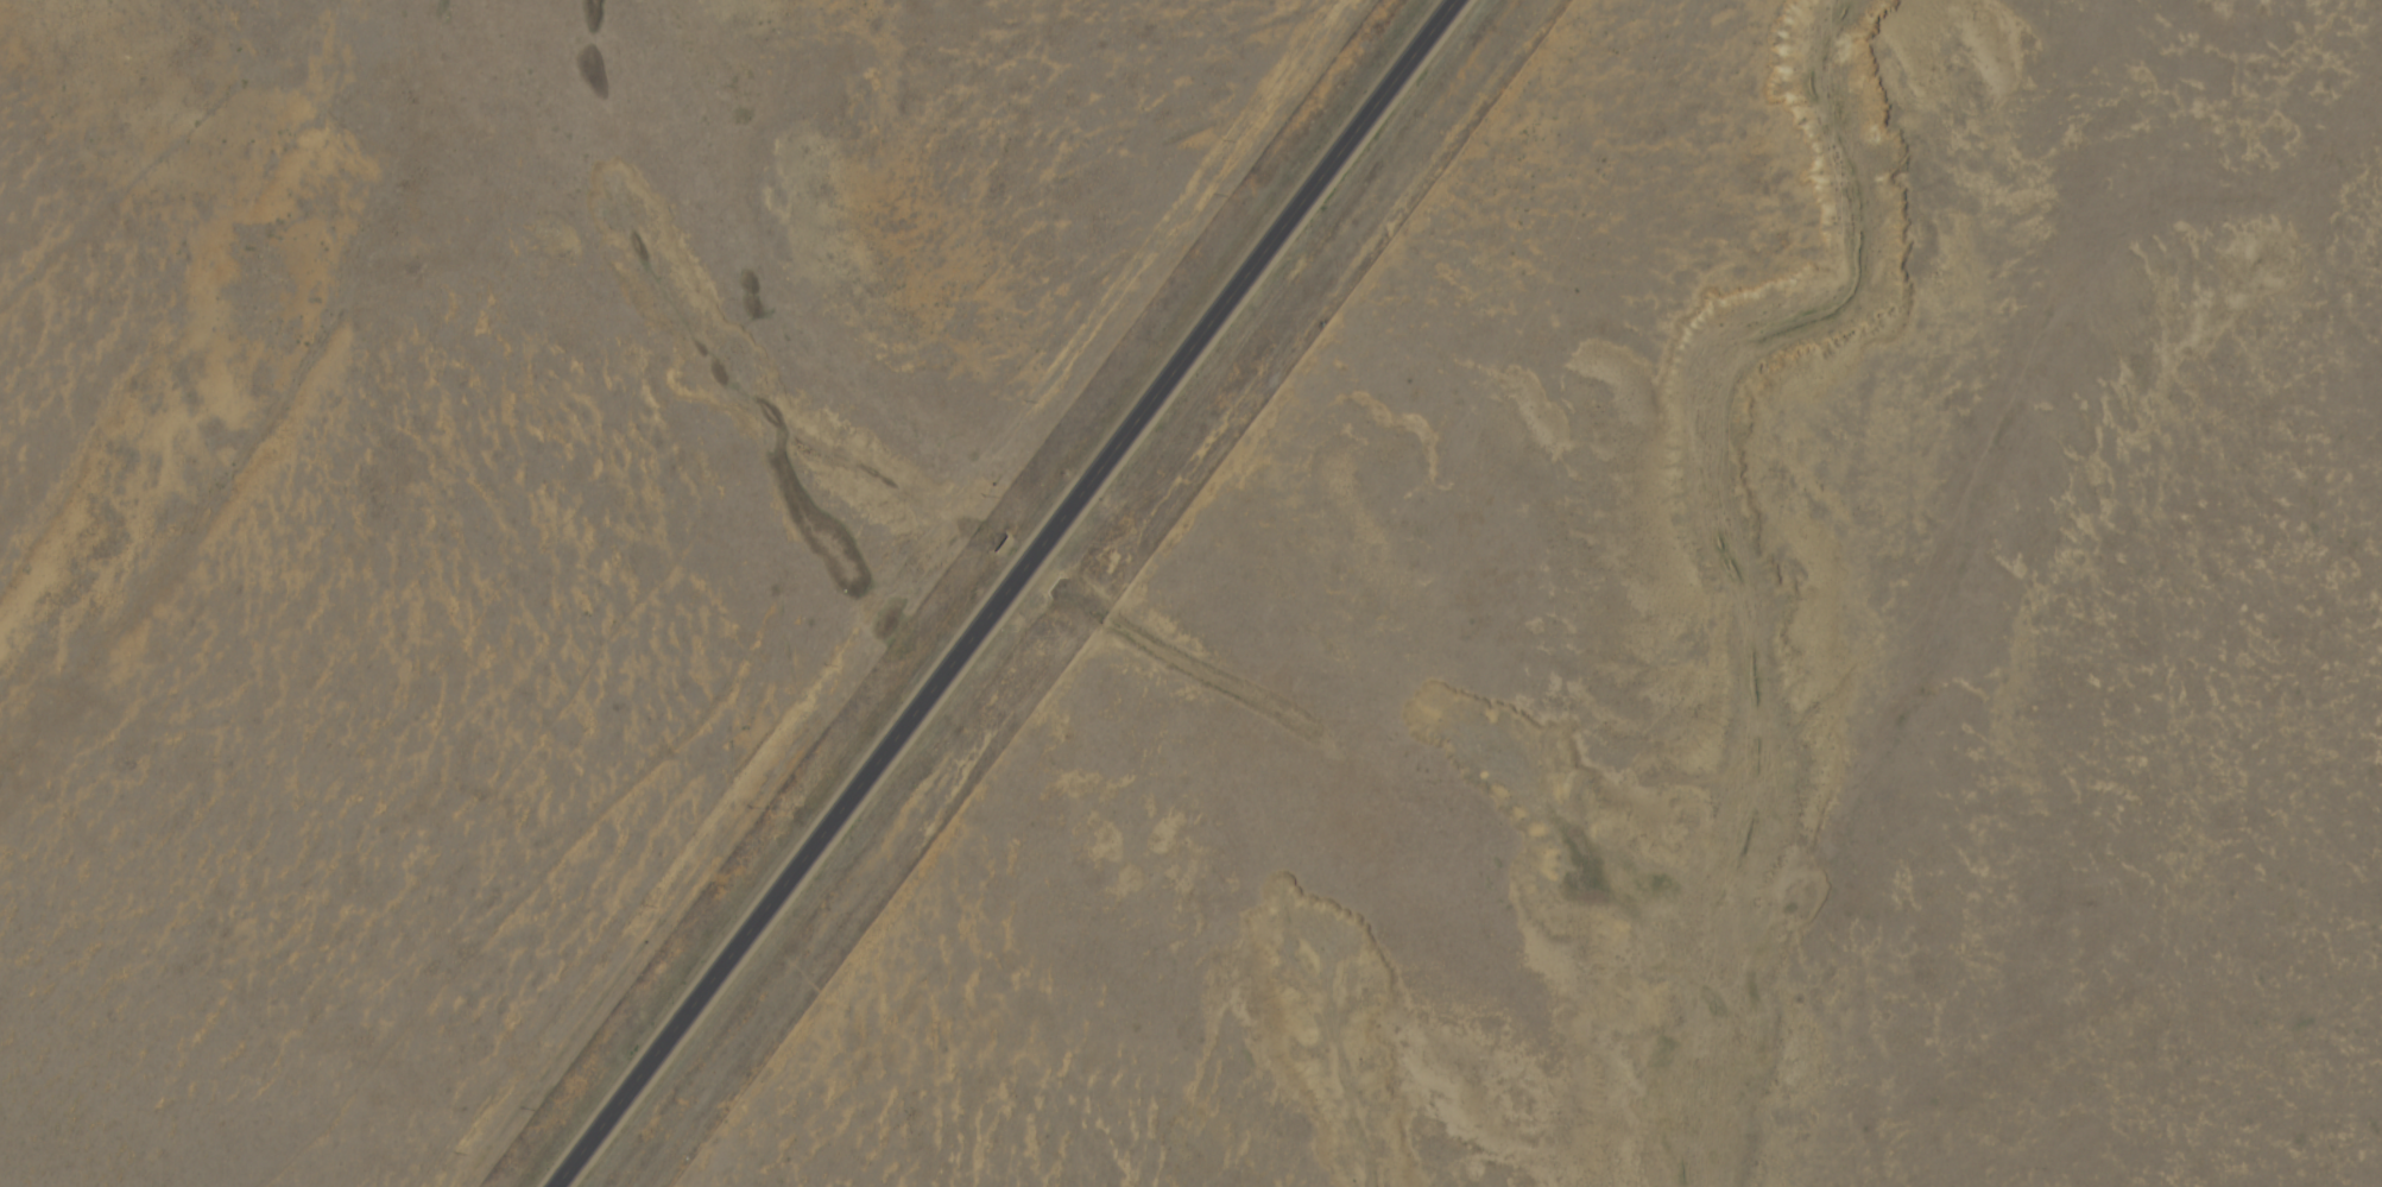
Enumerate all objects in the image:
road: (228, 330)
road: (1003, 593)

